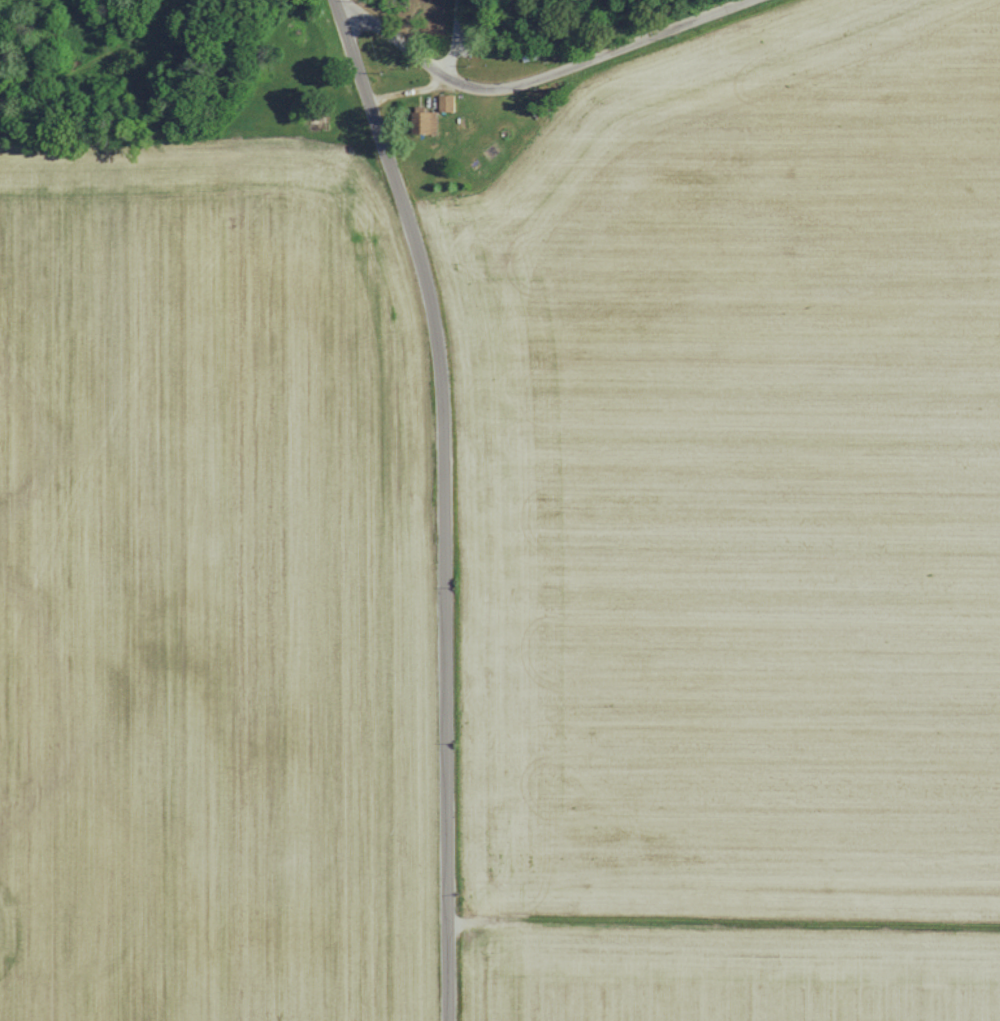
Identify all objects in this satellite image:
road: (457, 38)
road: (541, 81)
road: (417, 97)
building: (446, 102)
building: (425, 121)
road: (445, 501)

